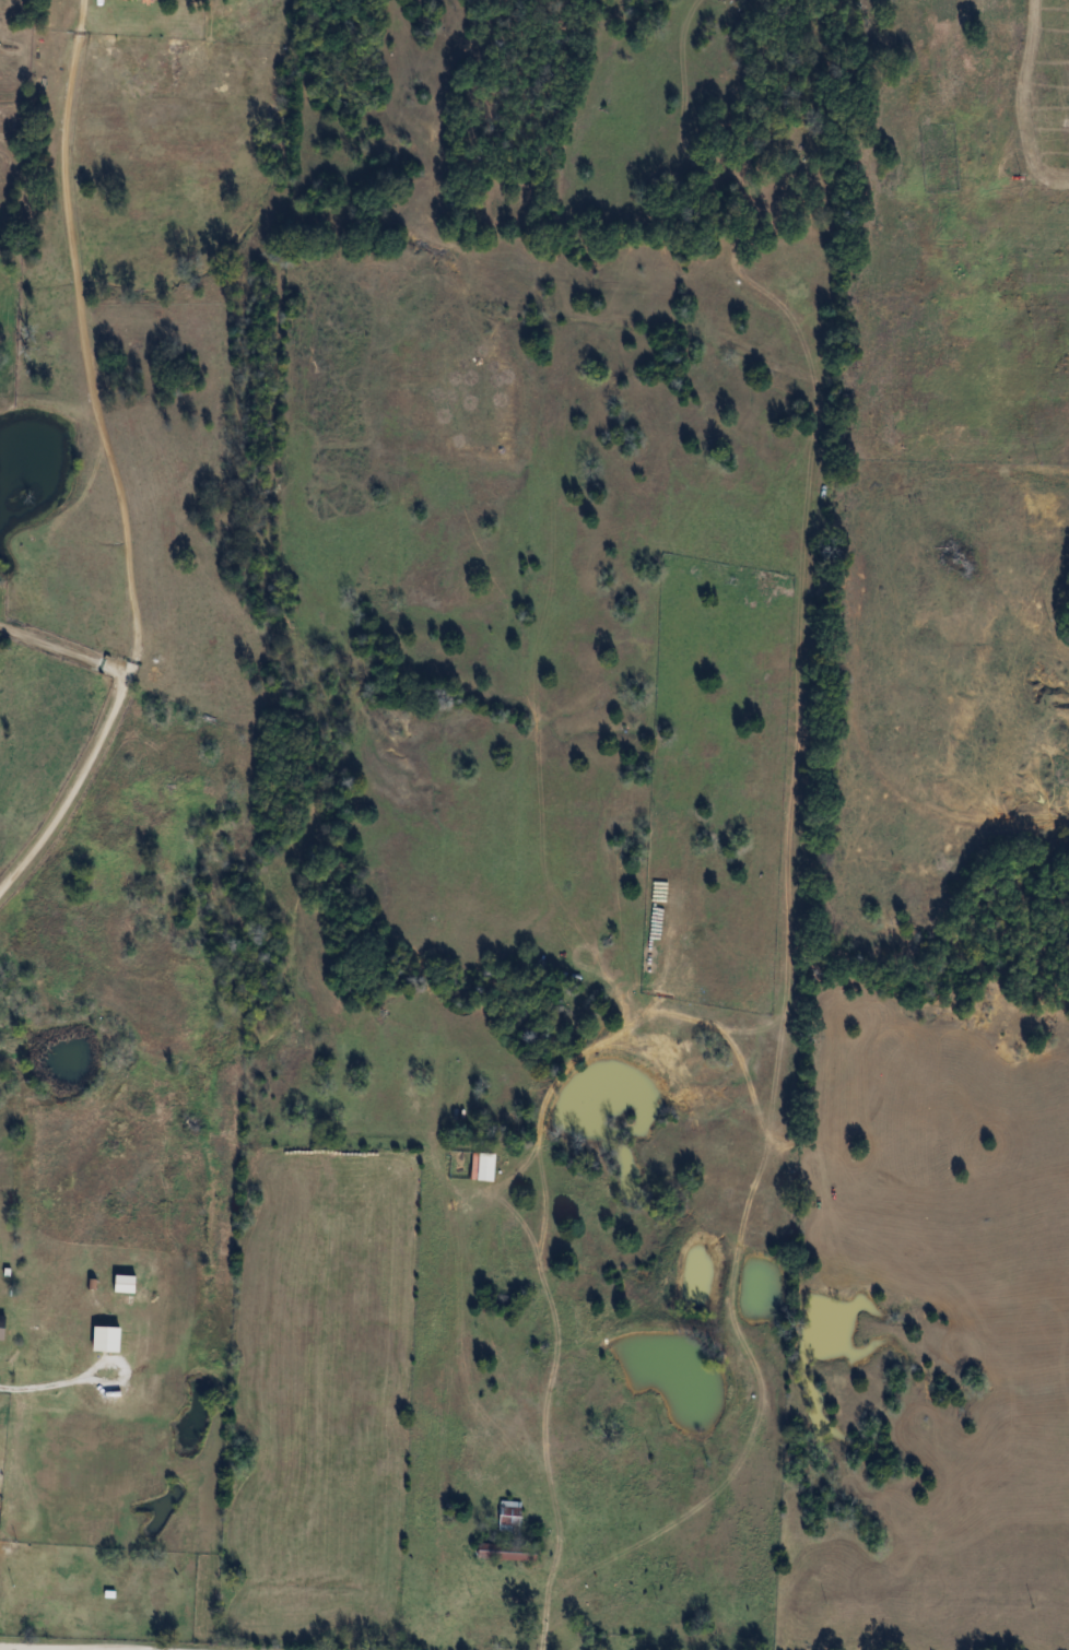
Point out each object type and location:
road: (74, 326)
road: (104, 728)
building: (1, 1328)
building: (103, 1340)
road: (549, 1400)
building: (507, 1516)
building: (509, 1553)
road: (25, 1649)

